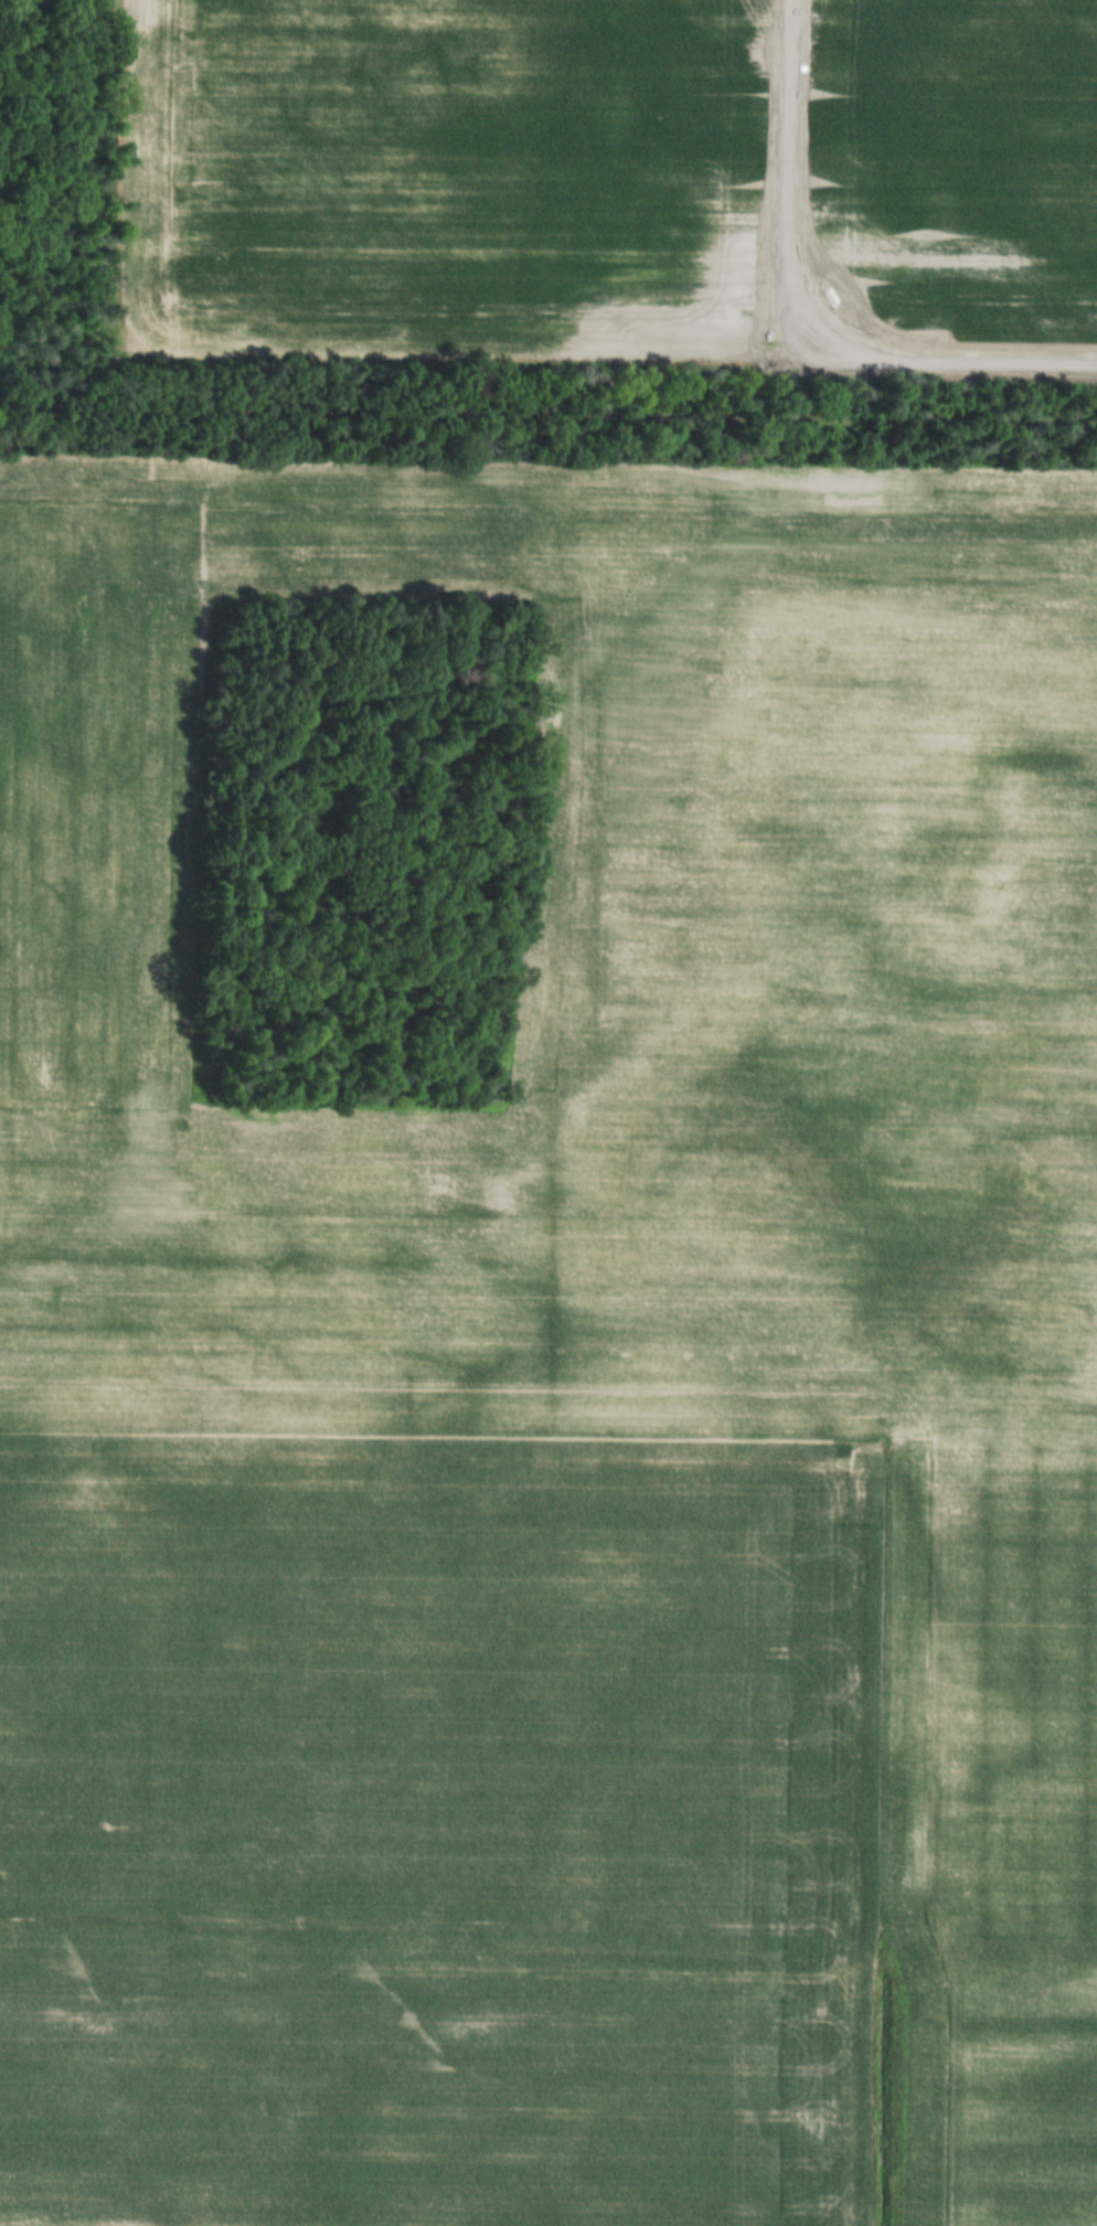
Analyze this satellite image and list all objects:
road: (794, 323)

